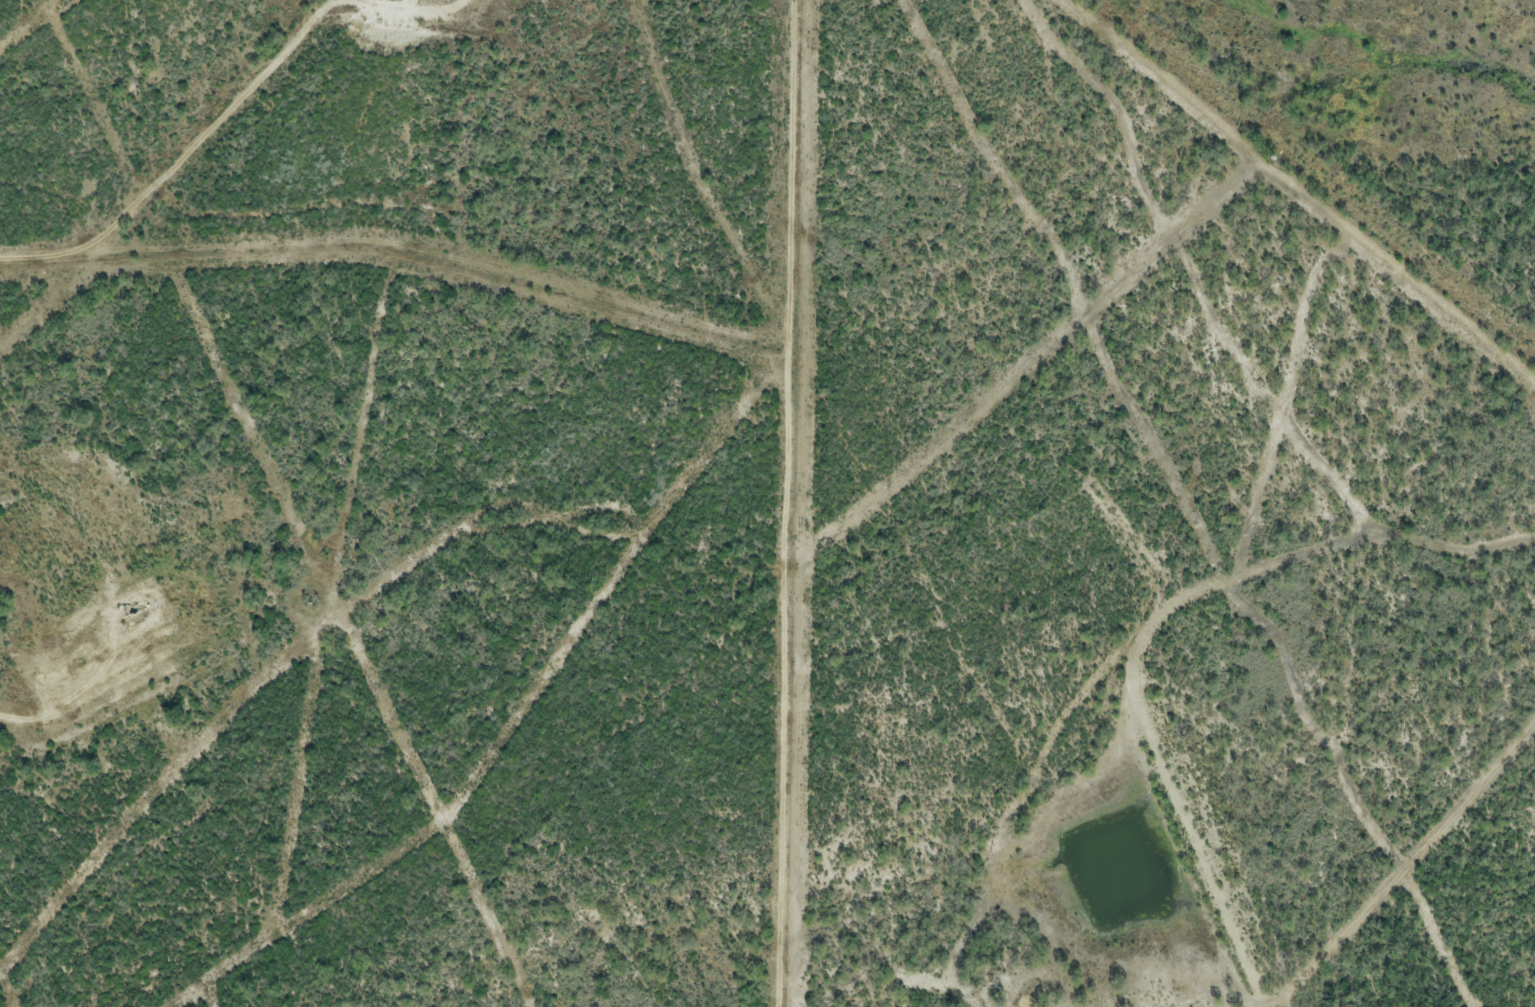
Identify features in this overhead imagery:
petroleum well: (130, 615)

